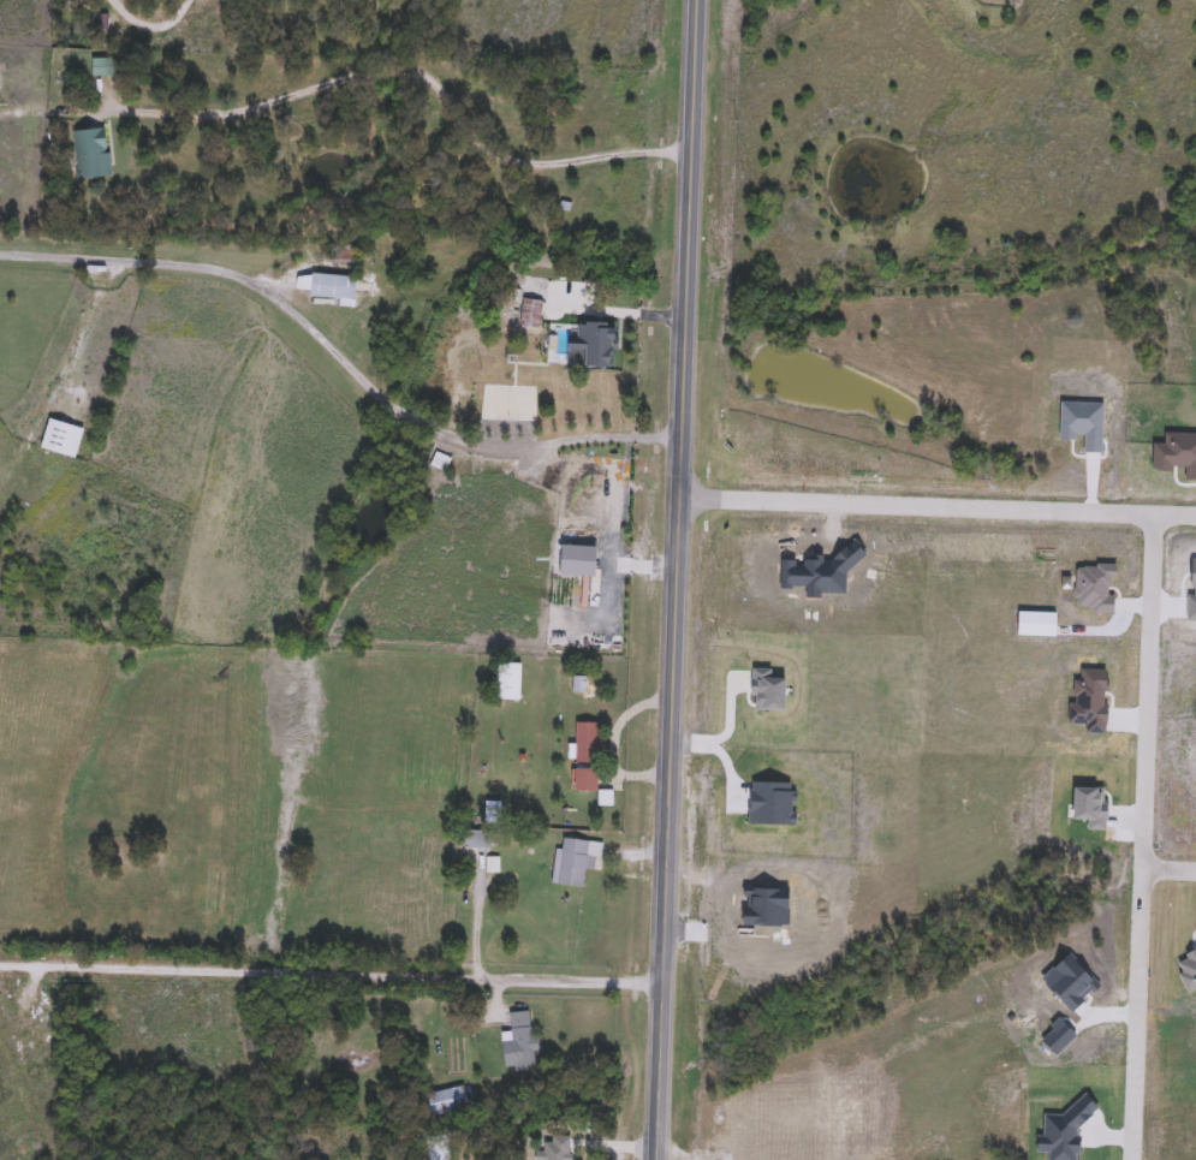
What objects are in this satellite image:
road: (150, 23)
building: (102, 69)
road: (411, 72)
building: (90, 154)
building: (327, 288)
road: (617, 310)
building: (530, 313)
road: (339, 355)
building: (61, 438)
road: (1176, 513)
road: (676, 579)
road: (1152, 599)
building: (508, 682)
building: (587, 757)
building: (490, 815)
building: (478, 839)
building: (575, 861)
road: (1170, 868)
road: (332, 972)
building: (518, 1041)
building: (447, 1100)

